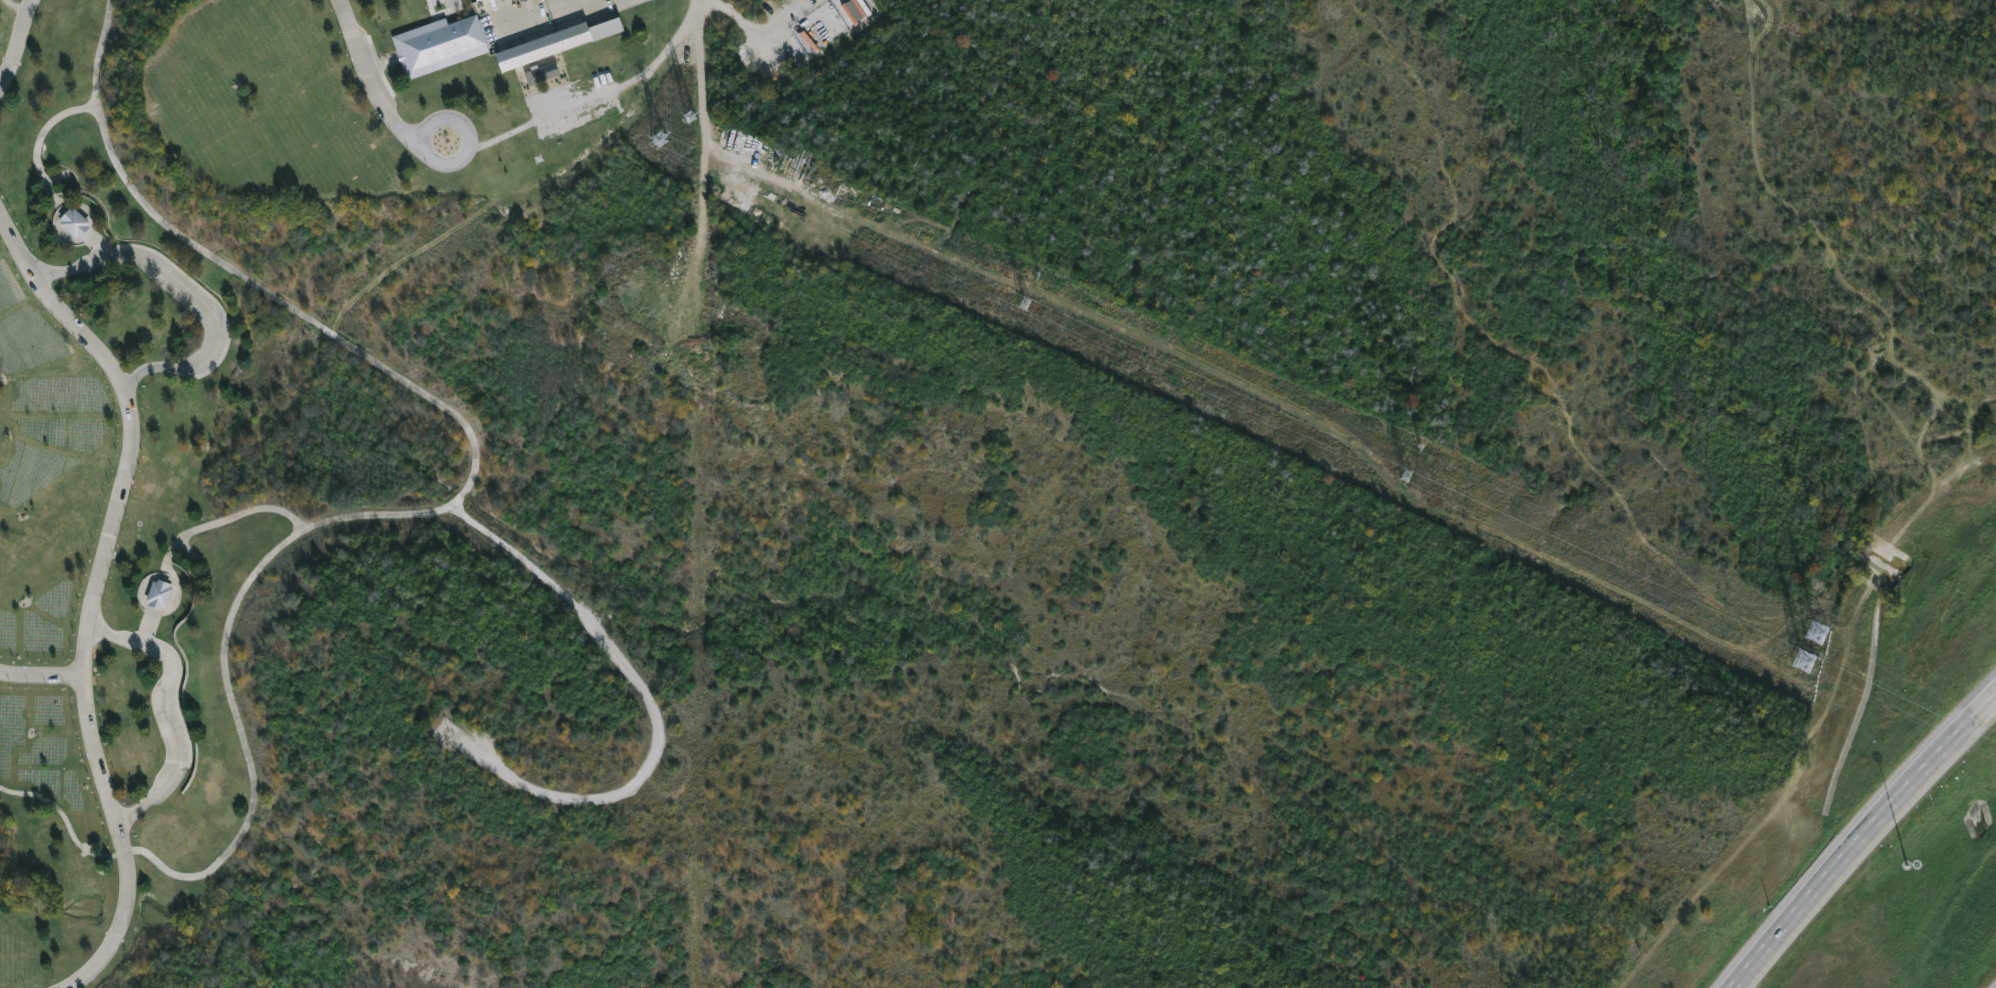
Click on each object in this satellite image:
building: (473, 0)
road: (452, 3)
road: (576, 7)
road: (603, 7)
road: (533, 13)
road: (18, 44)
building: (438, 44)
building: (551, 44)
road: (376, 77)
road: (599, 92)
road: (45, 128)
power tower: (666, 137)
road: (461, 160)
park: (231, 179)
building: (77, 223)
road: (193, 295)
power tower: (1032, 300)
power tower: (1416, 475)
park: (947, 477)
road: (472, 483)
road: (115, 513)
park: (1042, 515)
road: (231, 517)
building: (162, 593)
power tower: (1813, 662)
road: (41, 680)
road: (167, 712)
road: (656, 712)
road: (64, 817)
road: (1857, 836)
street lamp: (1907, 864)
road: (118, 931)

